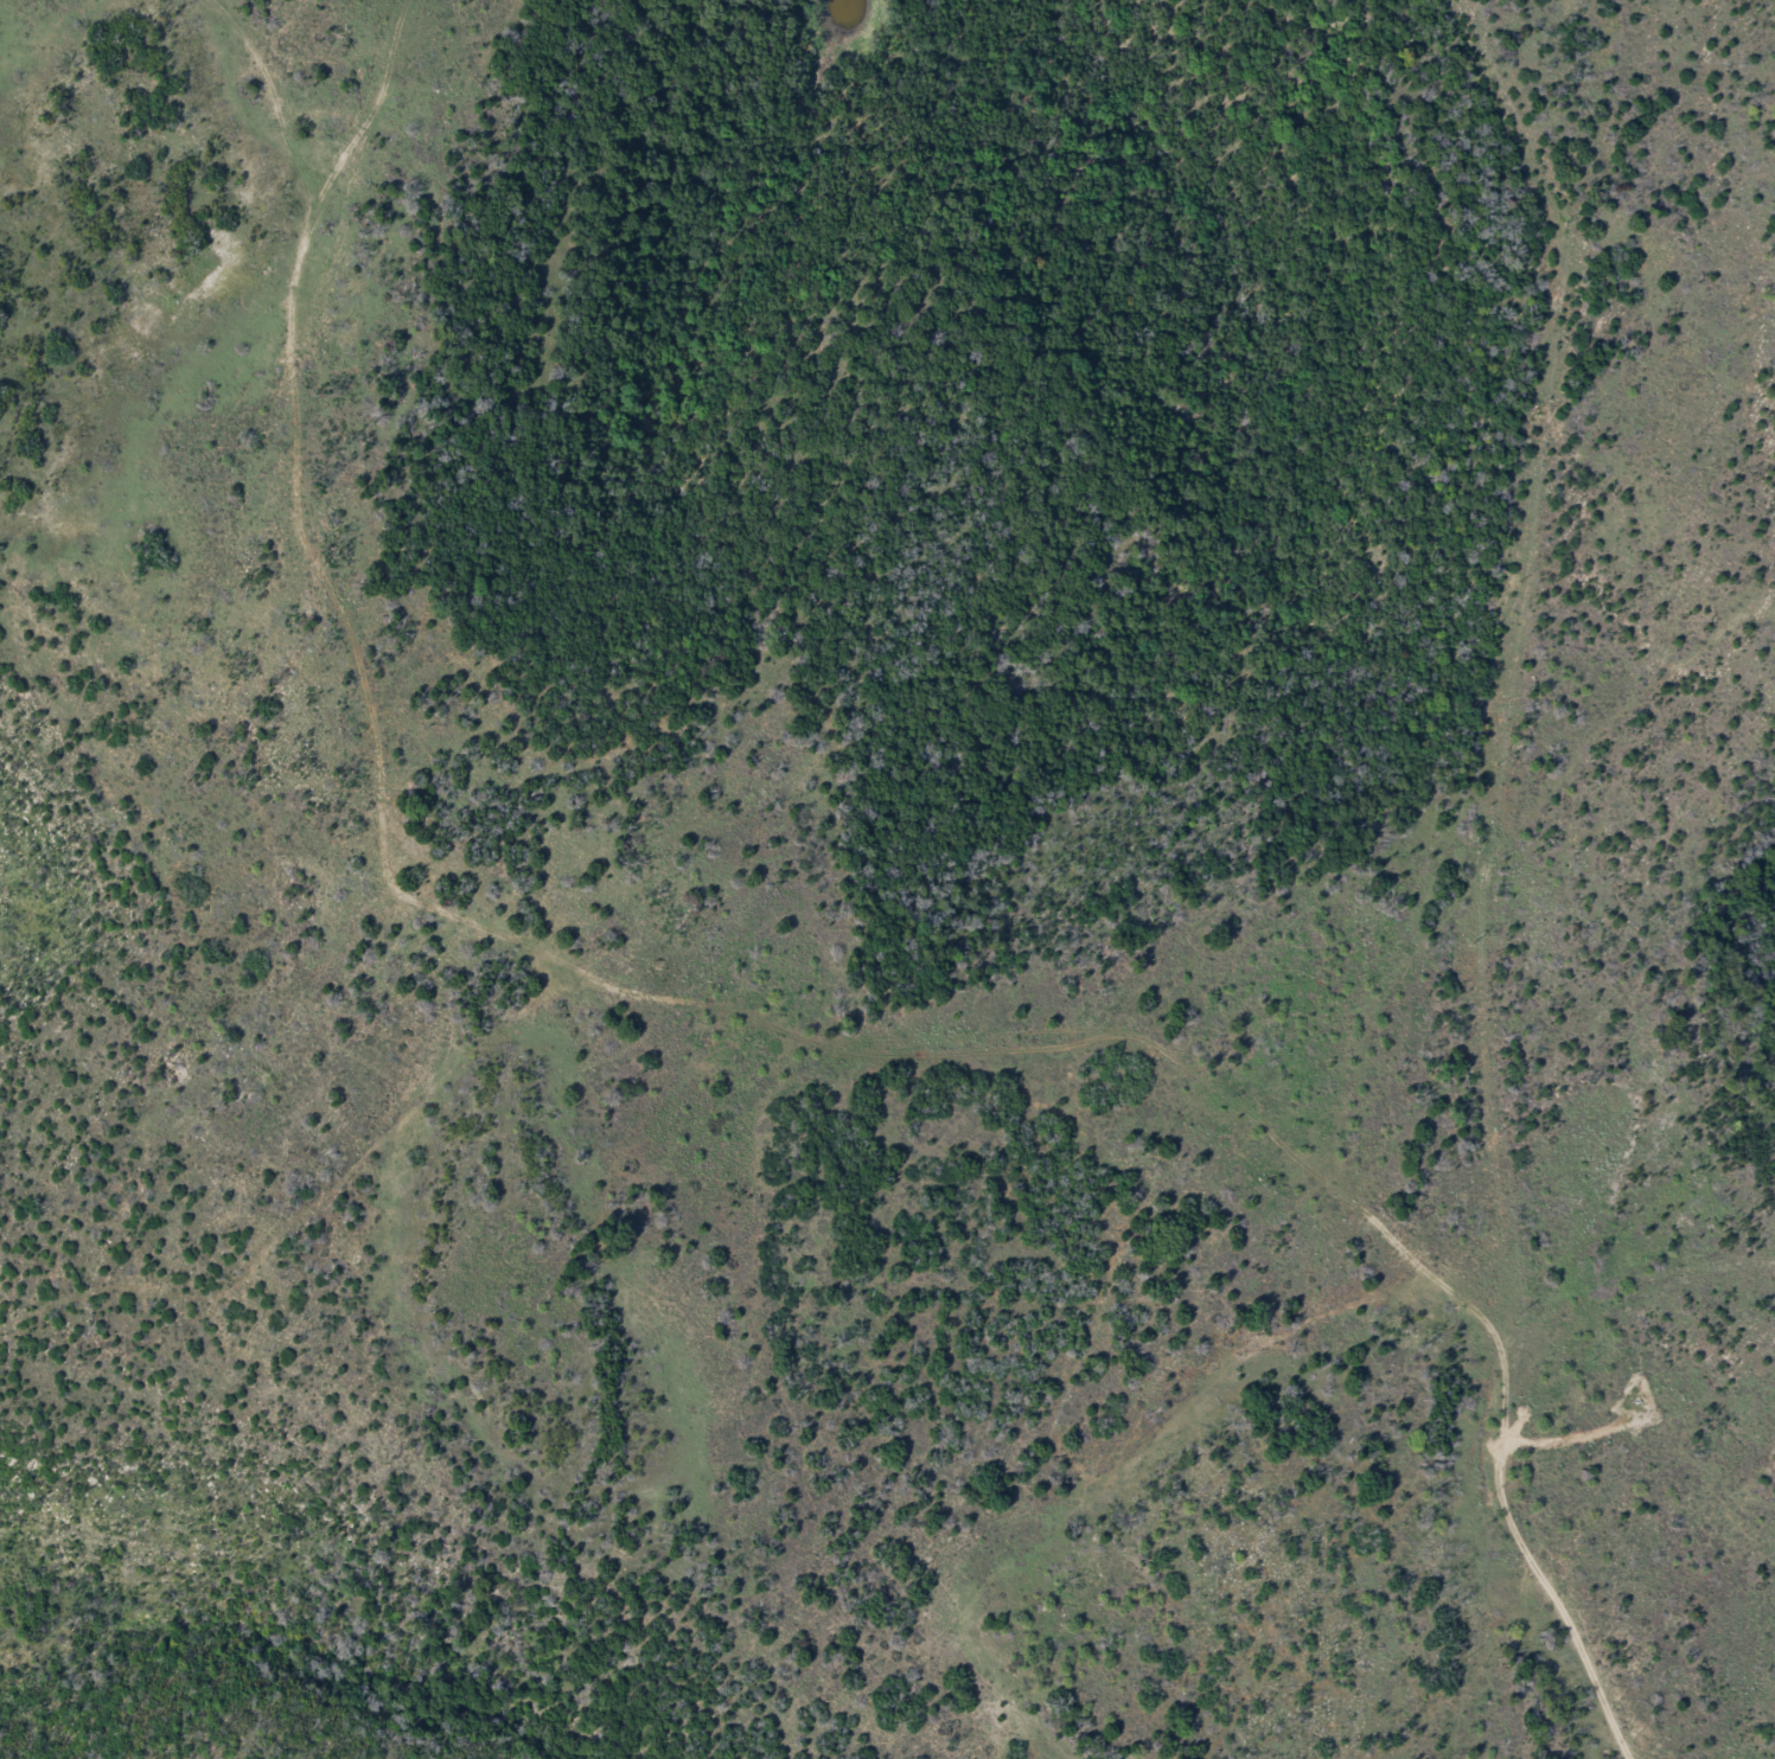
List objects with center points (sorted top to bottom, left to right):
park: (887, 879)
road: (1501, 1426)

